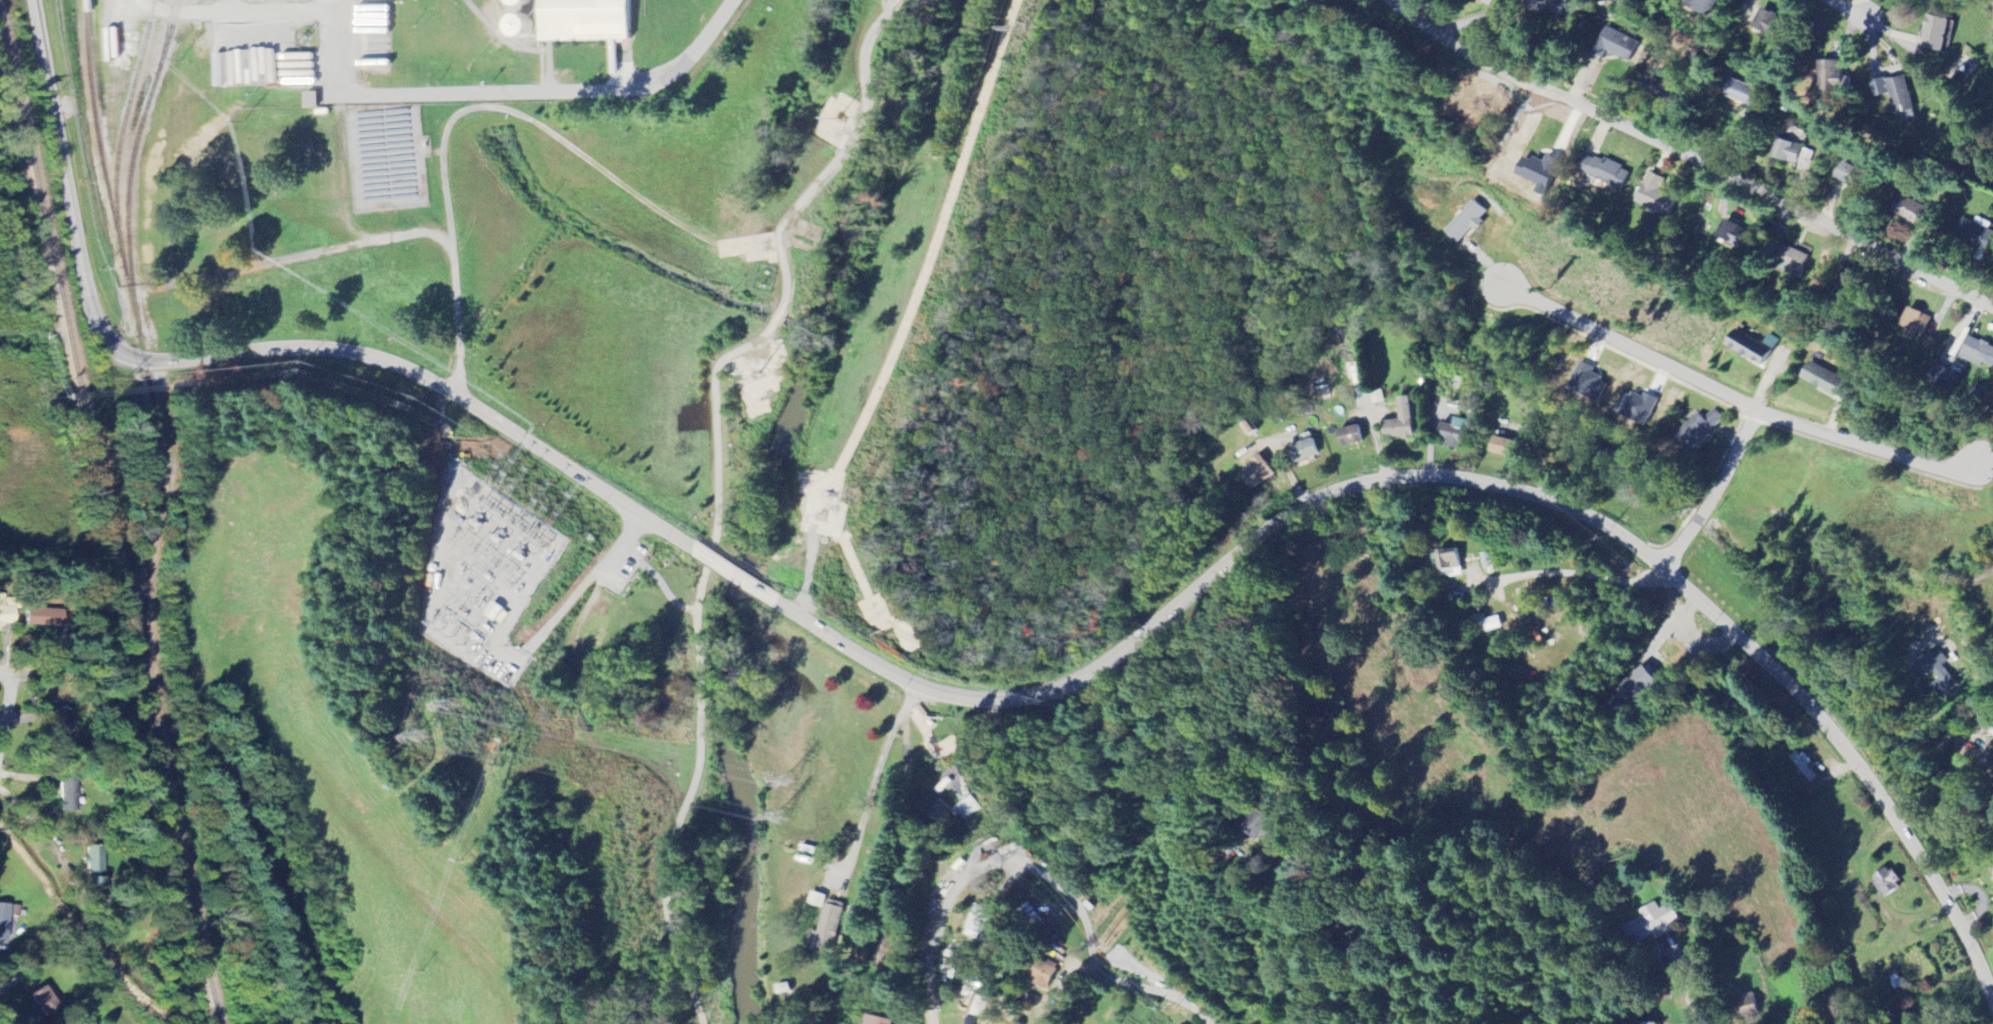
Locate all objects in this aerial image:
building: (526, 4)
building: (1551, 6)
building: (1702, 6)
road: (1864, 19)
building: (588, 21)
building: (1771, 26)
building: (523, 27)
building: (1943, 34)
railway: (167, 37)
building: (1841, 80)
road: (508, 91)
building: (1743, 94)
building: (1904, 97)
building: (312, 101)
railway: (121, 131)
building: (1795, 154)
road: (1689, 160)
railway: (130, 164)
building: (1603, 172)
building: (1542, 174)
building: (1856, 178)
building: (1656, 197)
building: (1920, 214)
building: (1468, 222)
building: (1980, 233)
building: (1734, 236)
building: (1794, 259)
park: (792, 272)
road: (784, 301)
building: (1919, 324)
road: (1629, 346)
building: (1753, 348)
road: (249, 353)
building: (1979, 353)
railway: (147, 373)
building: (1826, 382)
building: (1589, 384)
building: (1637, 408)
building: (1403, 423)
building: (1700, 432)
building: (1455, 435)
building: (1353, 437)
road: (1862, 443)
building: (1506, 449)
building: (1305, 452)
building: (1259, 473)
railway: (98, 477)
road: (1461, 482)
road: (1714, 491)
power tower: (849, 496)
road: (626, 542)
parking lot: (628, 551)
building: (1452, 561)
power substation: (482, 571)
road: (736, 575)
road: (1570, 575)
road: (664, 594)
building: (6, 612)
building: (495, 612)
building: (45, 615)
building: (1481, 624)
road: (39, 673)
building: (1934, 673)
building: (1637, 687)
power tower: (454, 706)
road: (8, 712)
park: (677, 730)
power tower: (424, 737)
road: (1924, 742)
building: (1801, 765)
building: (1987, 769)
road: (859, 774)
power tower: (790, 781)
building: (68, 795)
building: (963, 810)
building: (935, 812)
road: (680, 816)
power tower: (781, 818)
road: (45, 840)
building: (94, 867)
building: (1884, 882)
road: (1345, 907)
building: (4, 922)
building: (980, 922)
building: (826, 924)
building: (1651, 925)
road: (938, 926)
building: (888, 956)
railway: (208, 971)
building: (1045, 973)
building: (971, 985)
road: (1144, 989)
building: (45, 1002)
road: (1686, 1003)
building: (980, 1005)
building: (1748, 1007)
road: (6, 1014)
building: (877, 1021)

